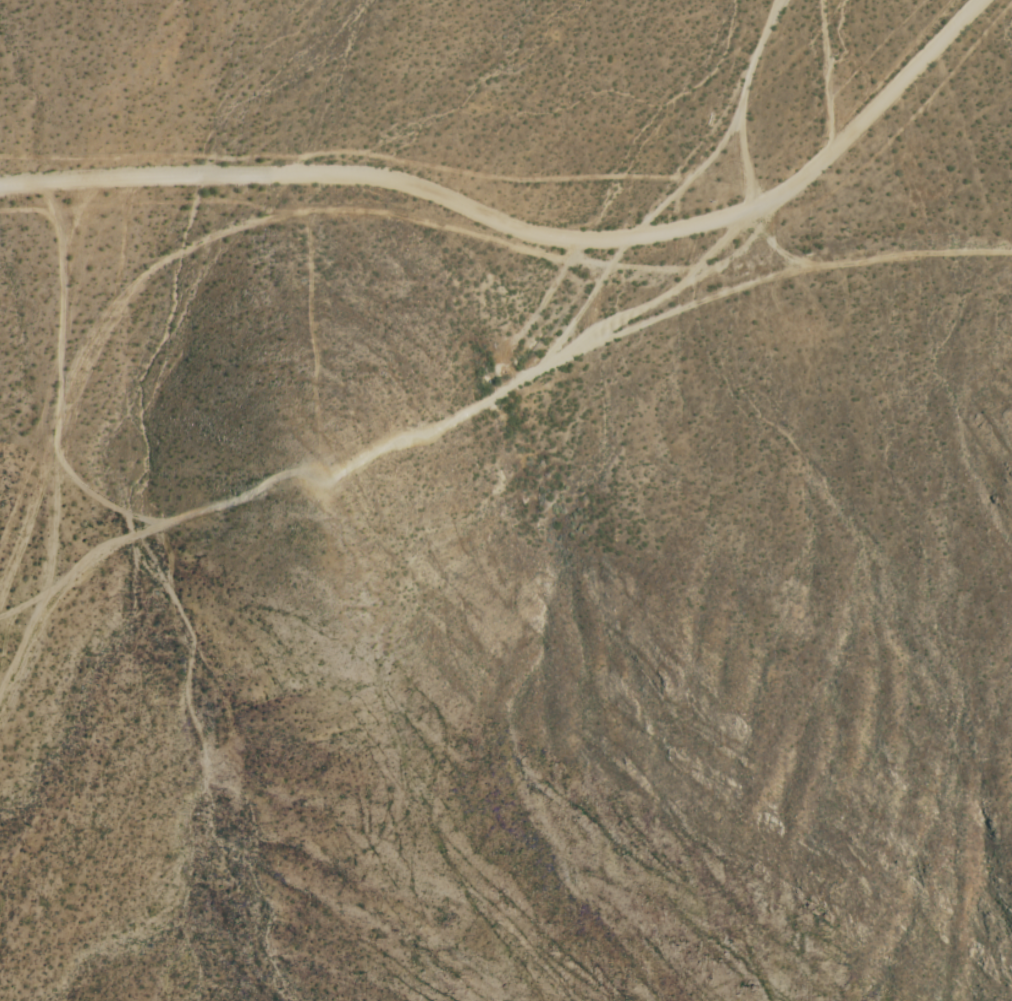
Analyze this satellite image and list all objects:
road: (524, 185)
road: (728, 246)
road: (53, 431)

